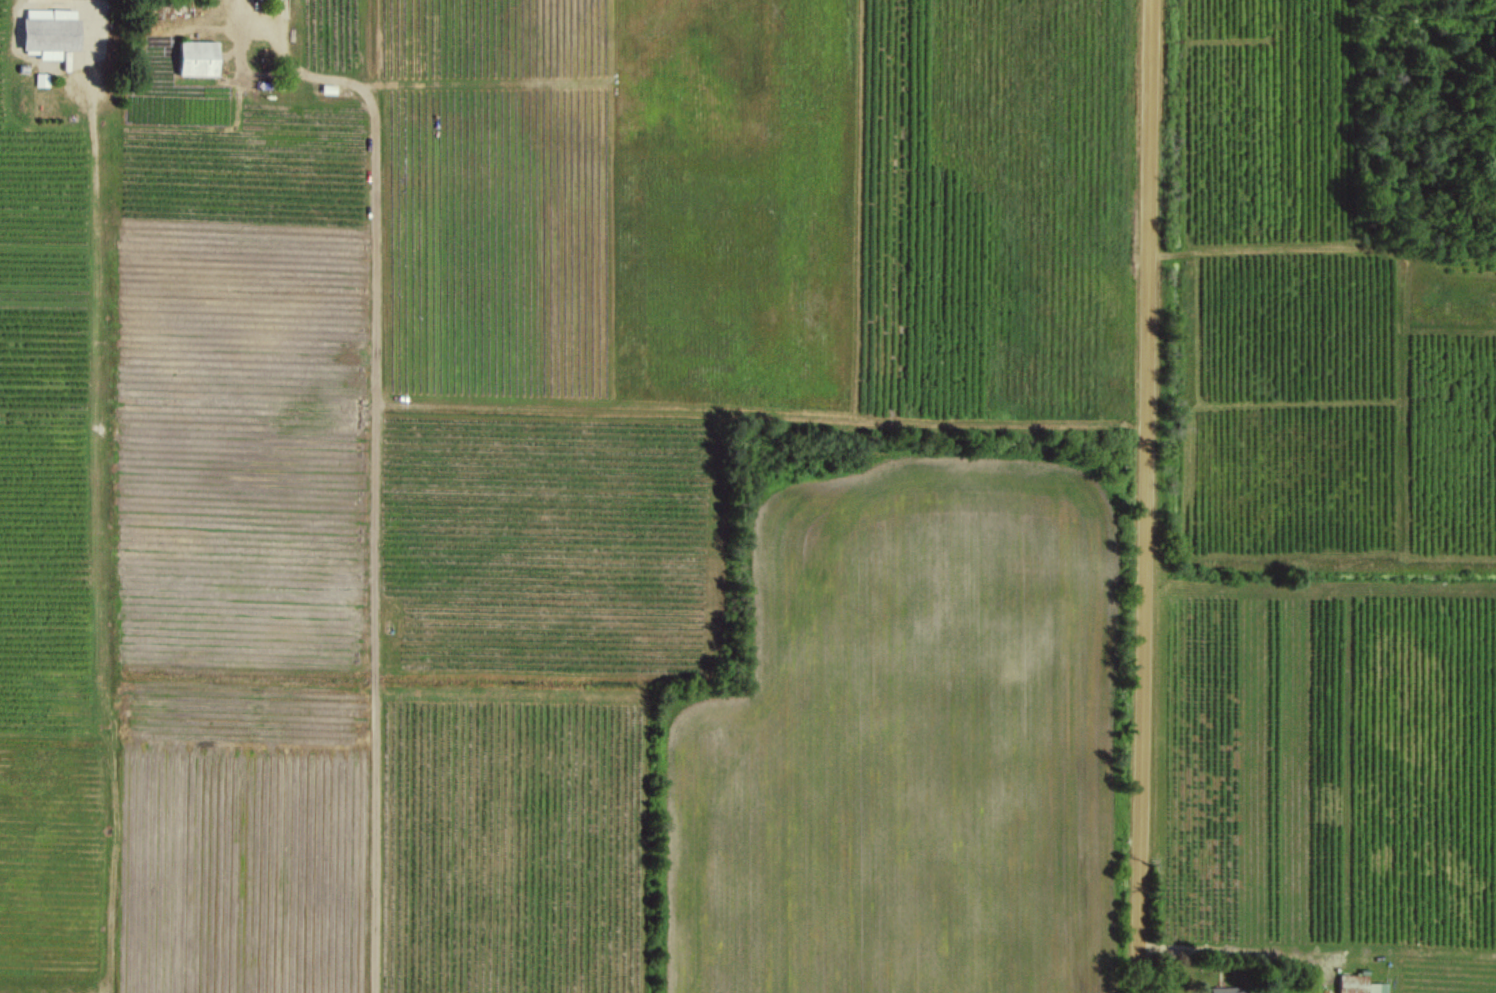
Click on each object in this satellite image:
road: (97, 6)
building: (50, 32)
building: (198, 58)
building: (41, 79)
road: (1150, 496)
building: (1353, 983)
building: (1377, 987)
building: (1228, 989)

